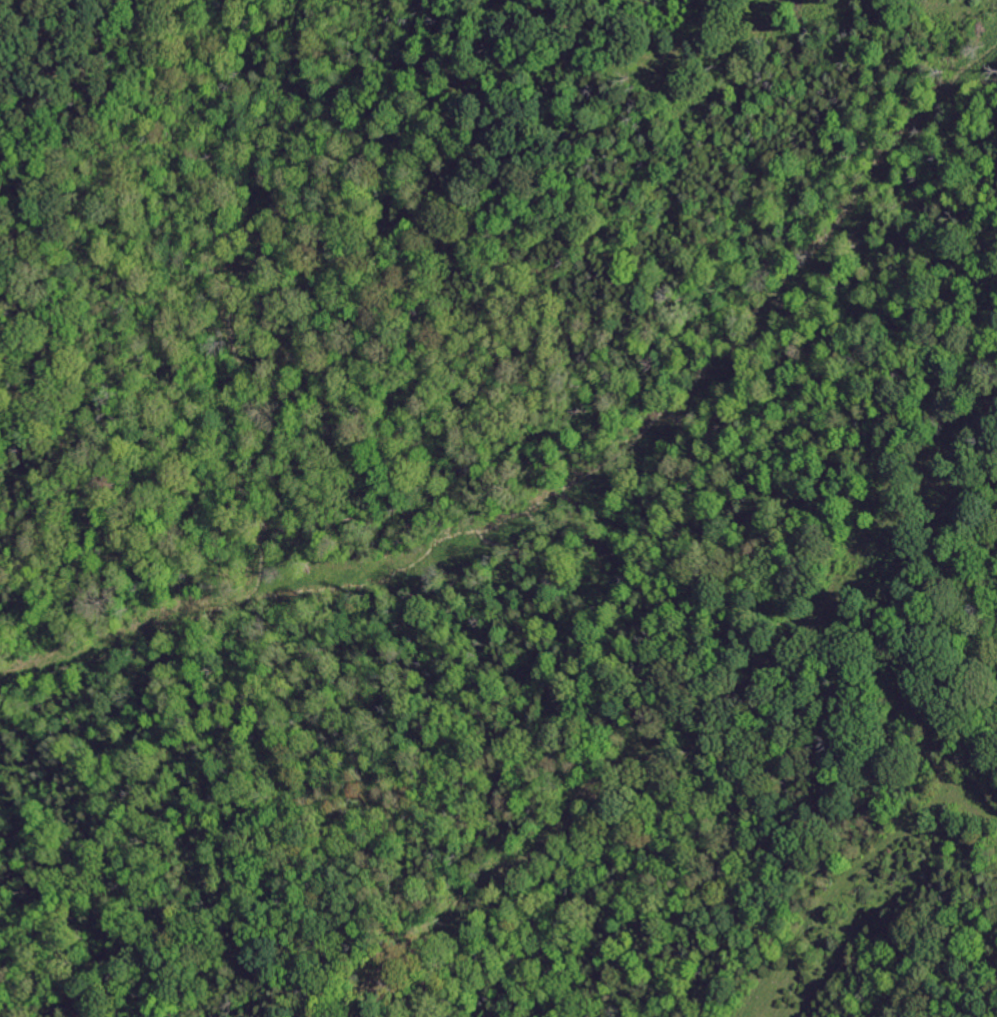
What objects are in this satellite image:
road: (901, 650)
road: (851, 865)

